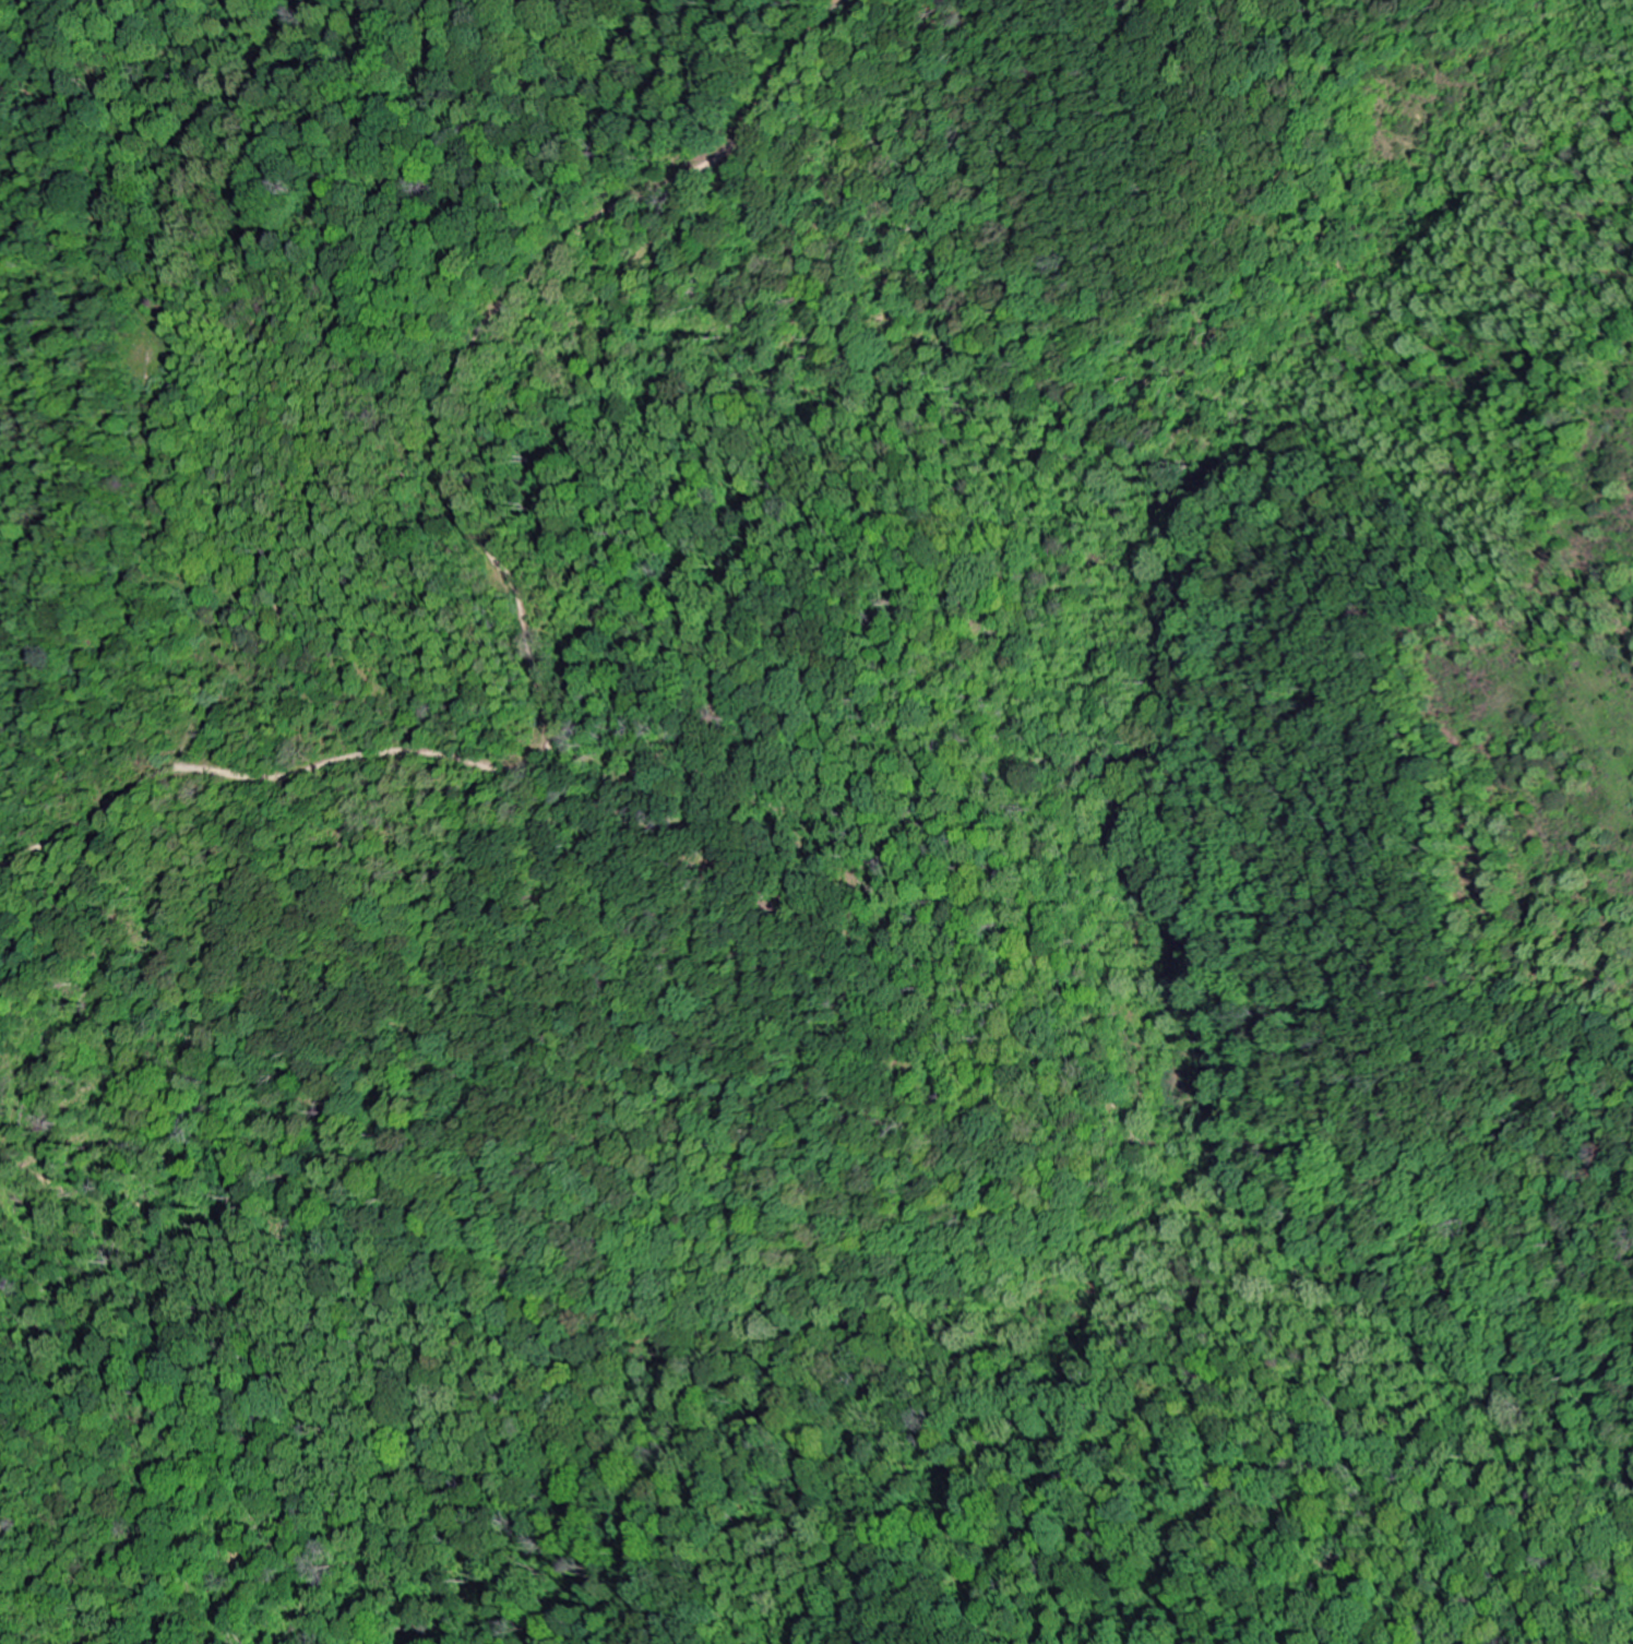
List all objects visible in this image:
road: (497, 573)

